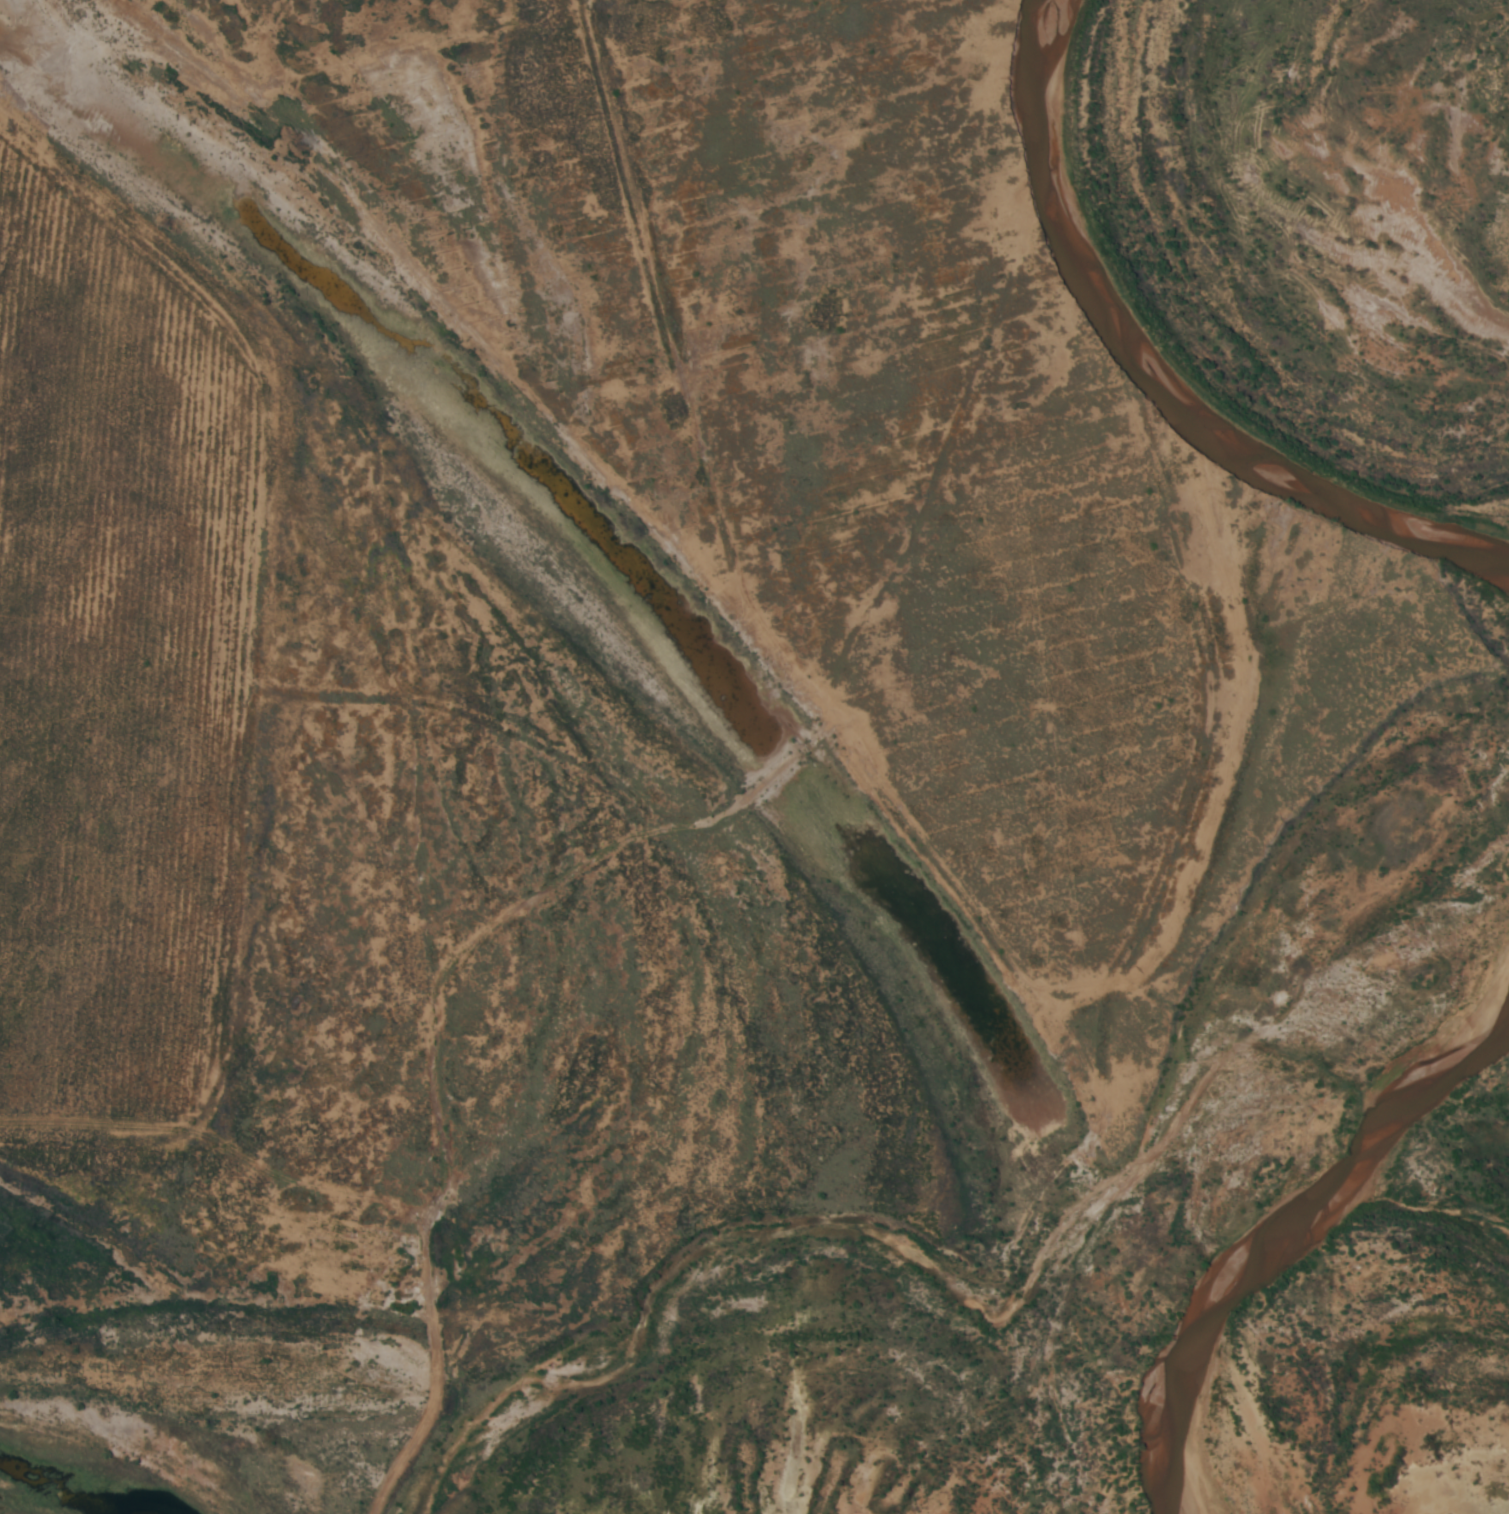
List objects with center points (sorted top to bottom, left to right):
river: (1172, 359)
river: (1252, 1251)

